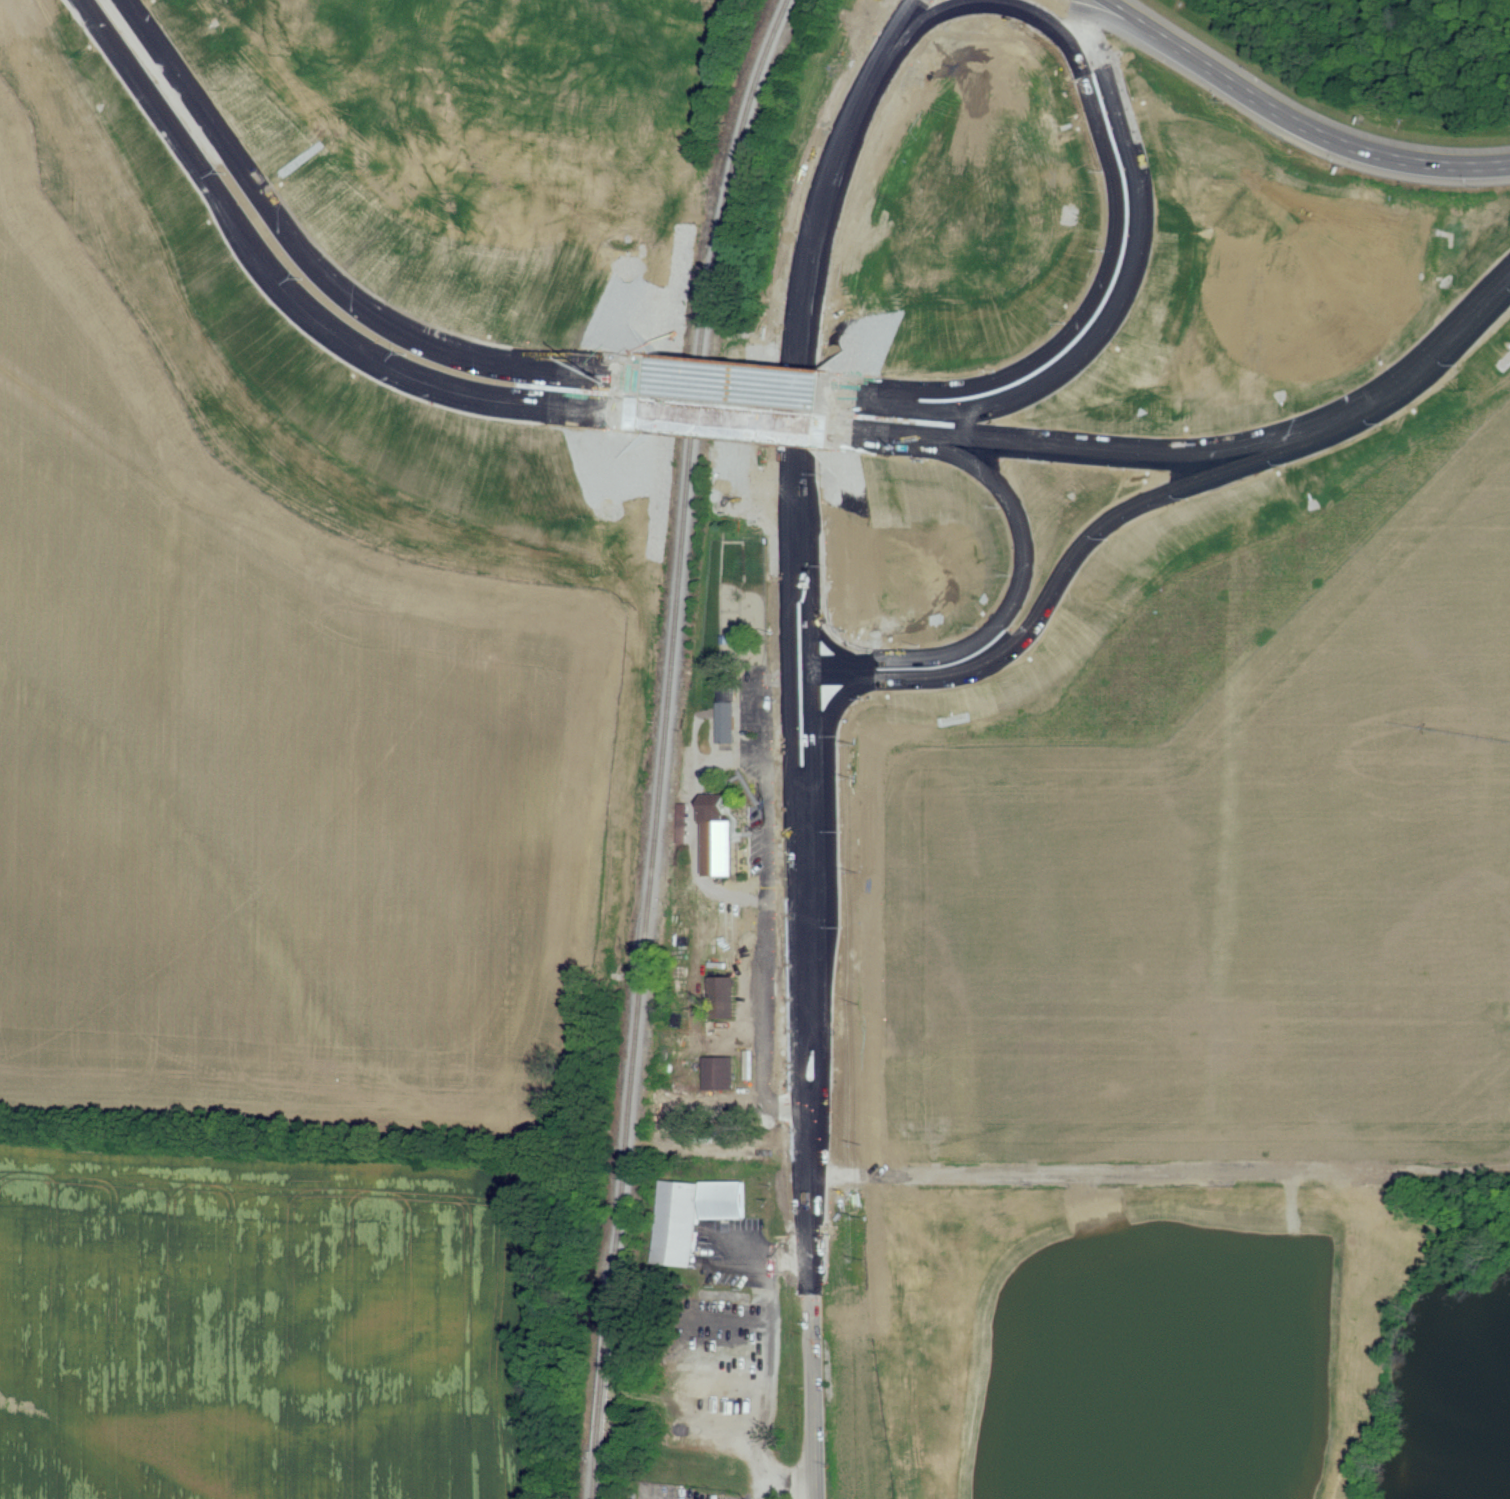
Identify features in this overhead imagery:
road: (1001, 2)
road: (893, 33)
road: (1124, 263)
road: (318, 265)
road: (289, 292)
road: (765, 385)
road: (765, 422)
road: (1238, 446)
road: (1013, 600)
road: (1032, 619)
traffic signals: (809, 672)
road: (842, 678)
road: (800, 699)
building: (723, 721)
railway: (665, 744)
road: (810, 776)
building: (713, 845)
building: (728, 935)
building: (717, 993)
building: (713, 1070)
road: (1160, 1172)
building: (691, 1214)
road: (760, 1247)
road: (756, 1373)
road: (789, 1481)

